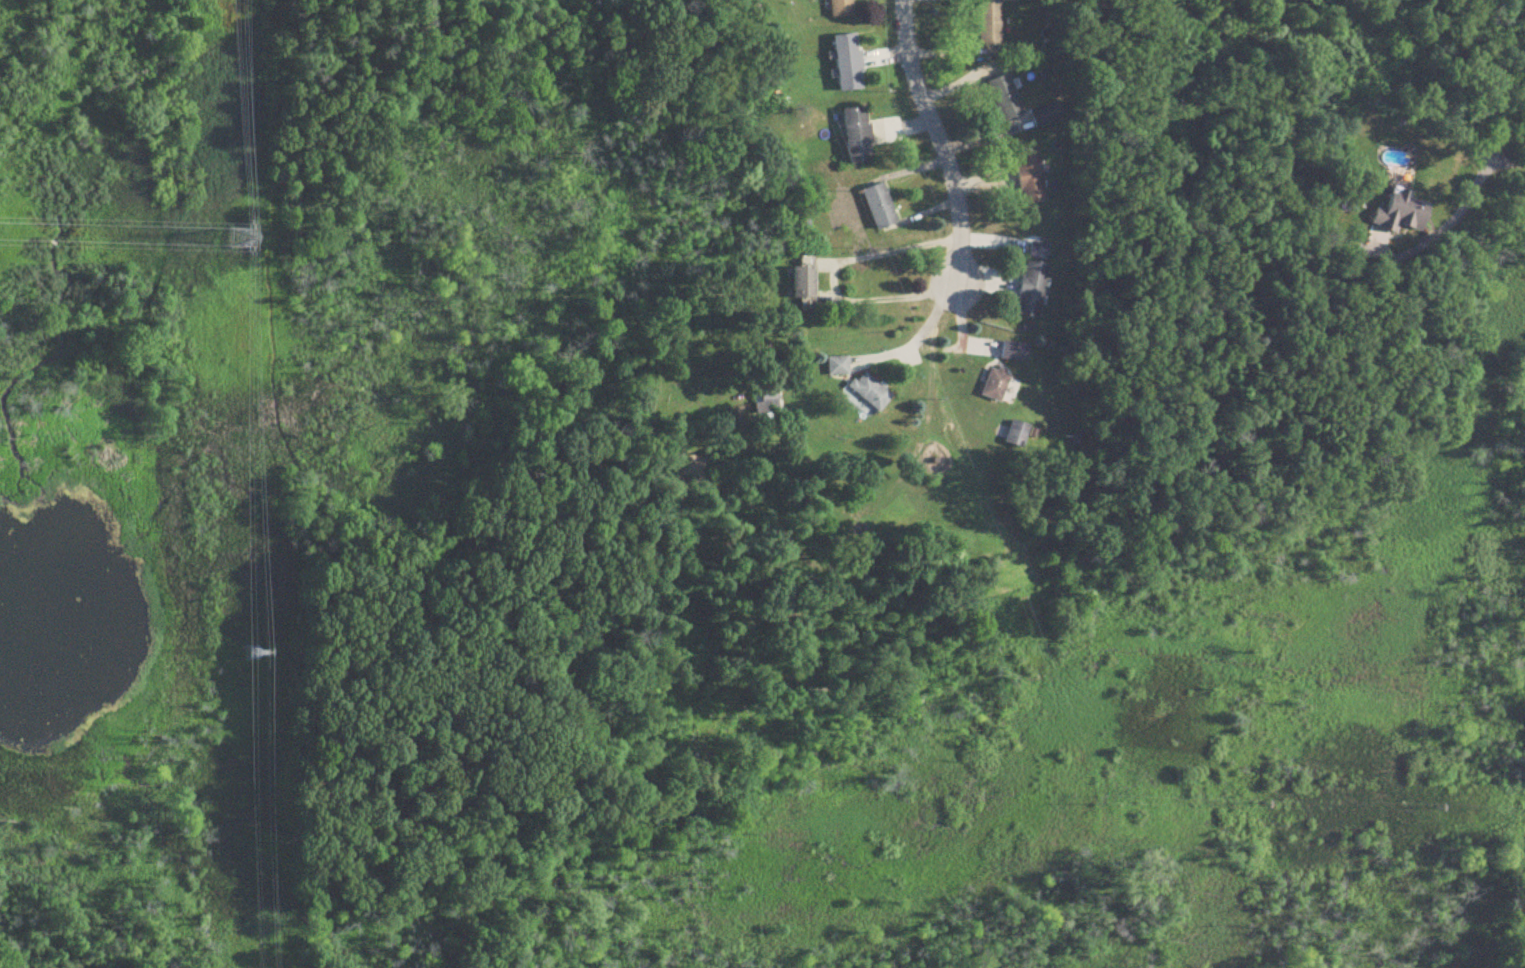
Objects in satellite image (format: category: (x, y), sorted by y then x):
building: (1009, 0)
building: (841, 8)
building: (989, 25)
building: (848, 62)
building: (1005, 97)
building: (1046, 115)
building: (858, 135)
road: (940, 143)
building: (1029, 176)
building: (880, 206)
road: (1456, 212)
building: (1400, 213)
power tower: (237, 238)
road: (831, 274)
building: (1033, 280)
building: (804, 282)
road: (917, 336)
building: (1014, 352)
building: (837, 366)
building: (995, 385)
building: (871, 392)
building: (1017, 435)
power tower: (253, 652)

